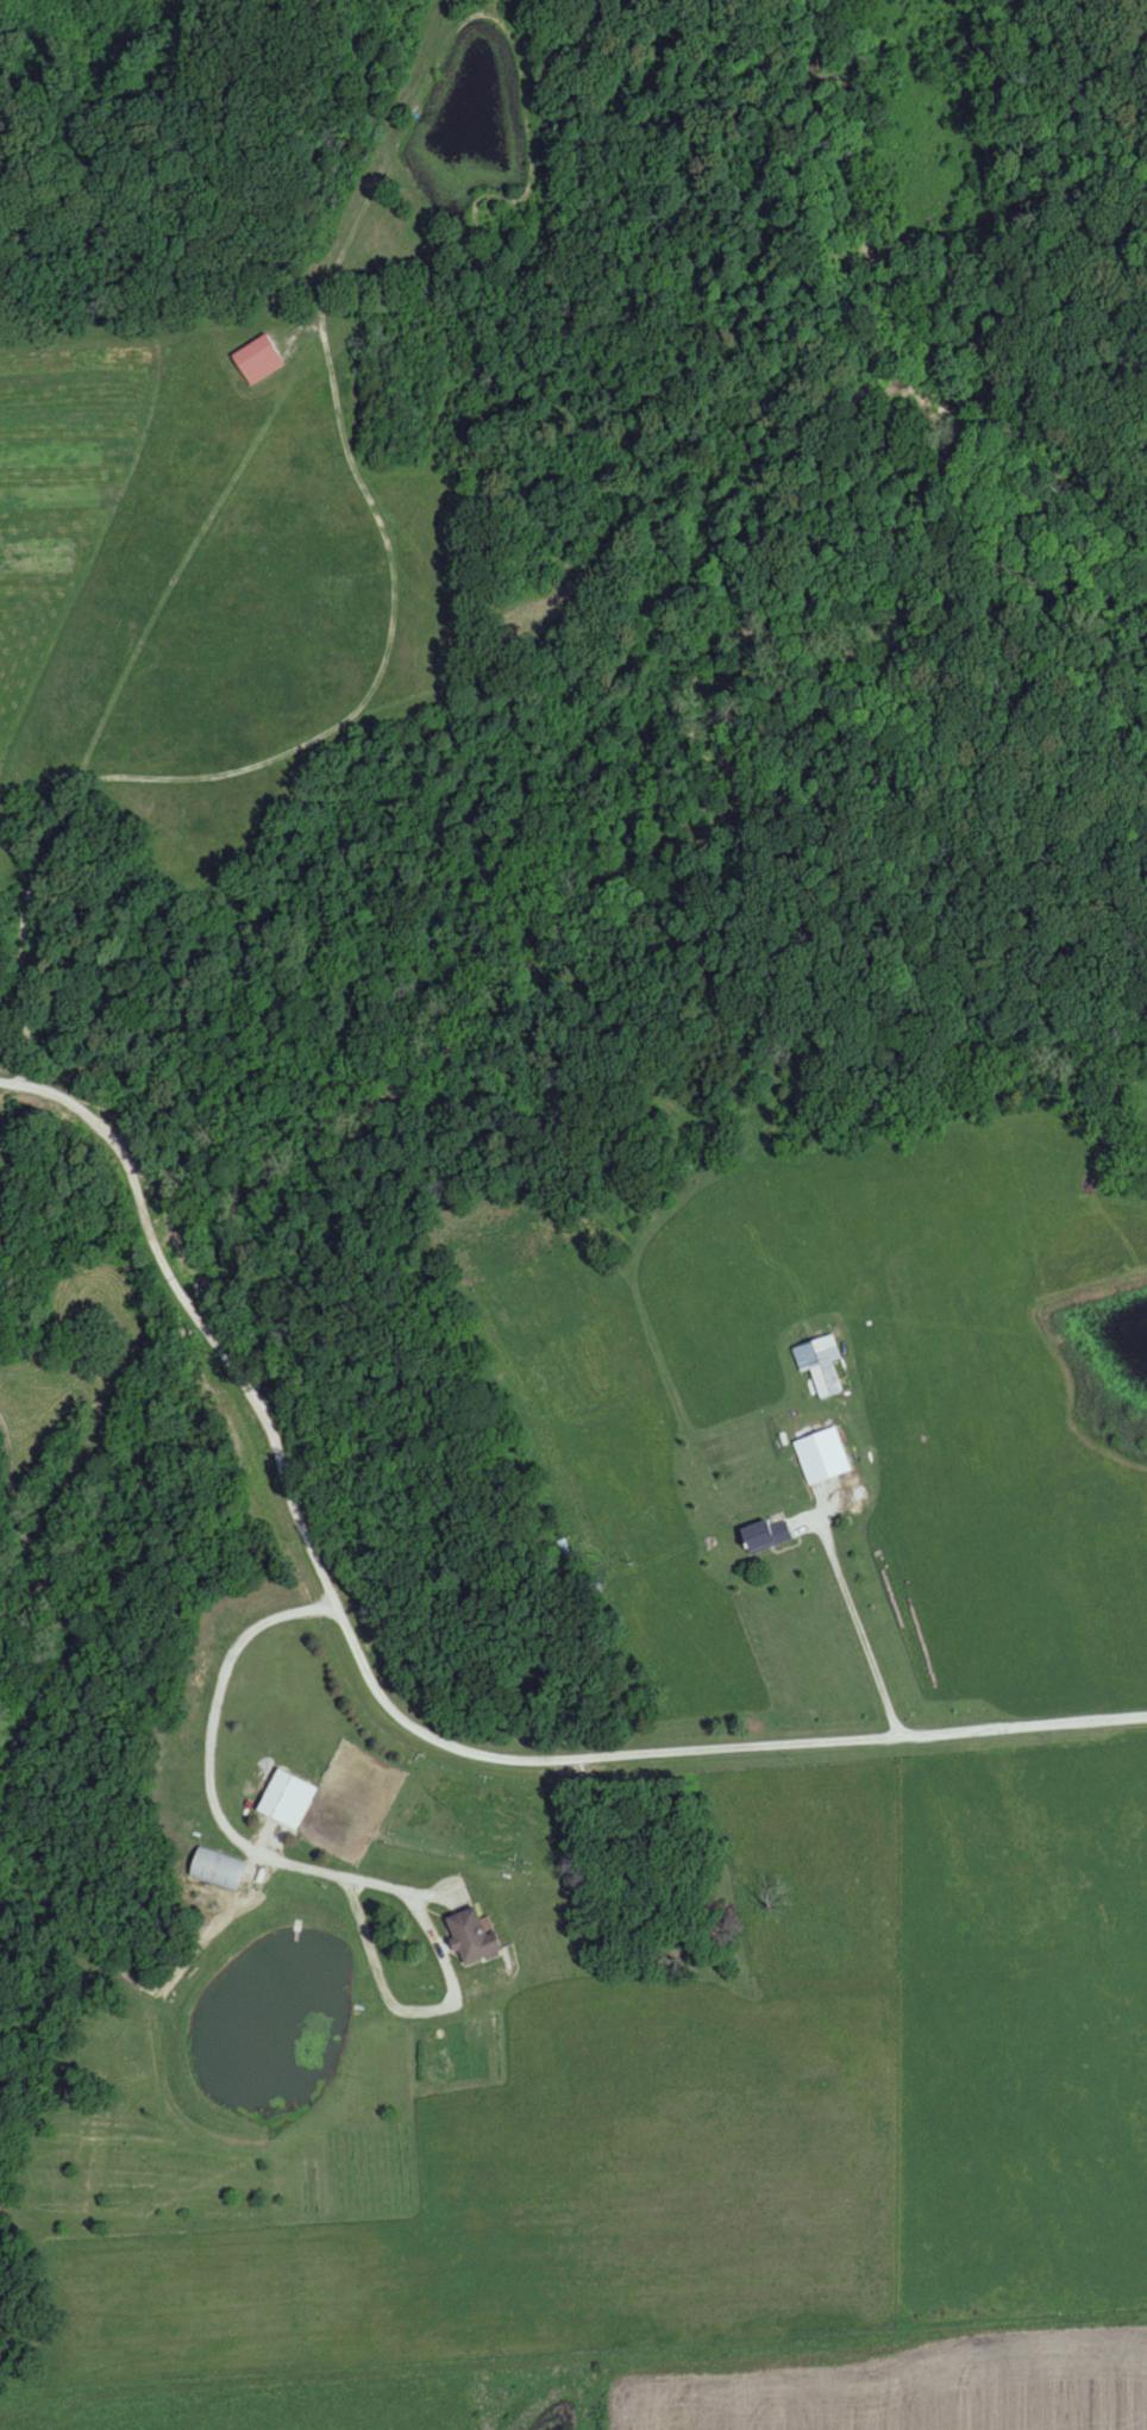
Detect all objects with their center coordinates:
road: (922, 305)
building: (256, 362)
road: (50, 1097)
road: (165, 1261)
building: (820, 1366)
building: (827, 1455)
building: (763, 1536)
road: (855, 1627)
road: (214, 1795)
building: (283, 1802)
building: (217, 1871)
building: (466, 1937)
road: (413, 2009)

